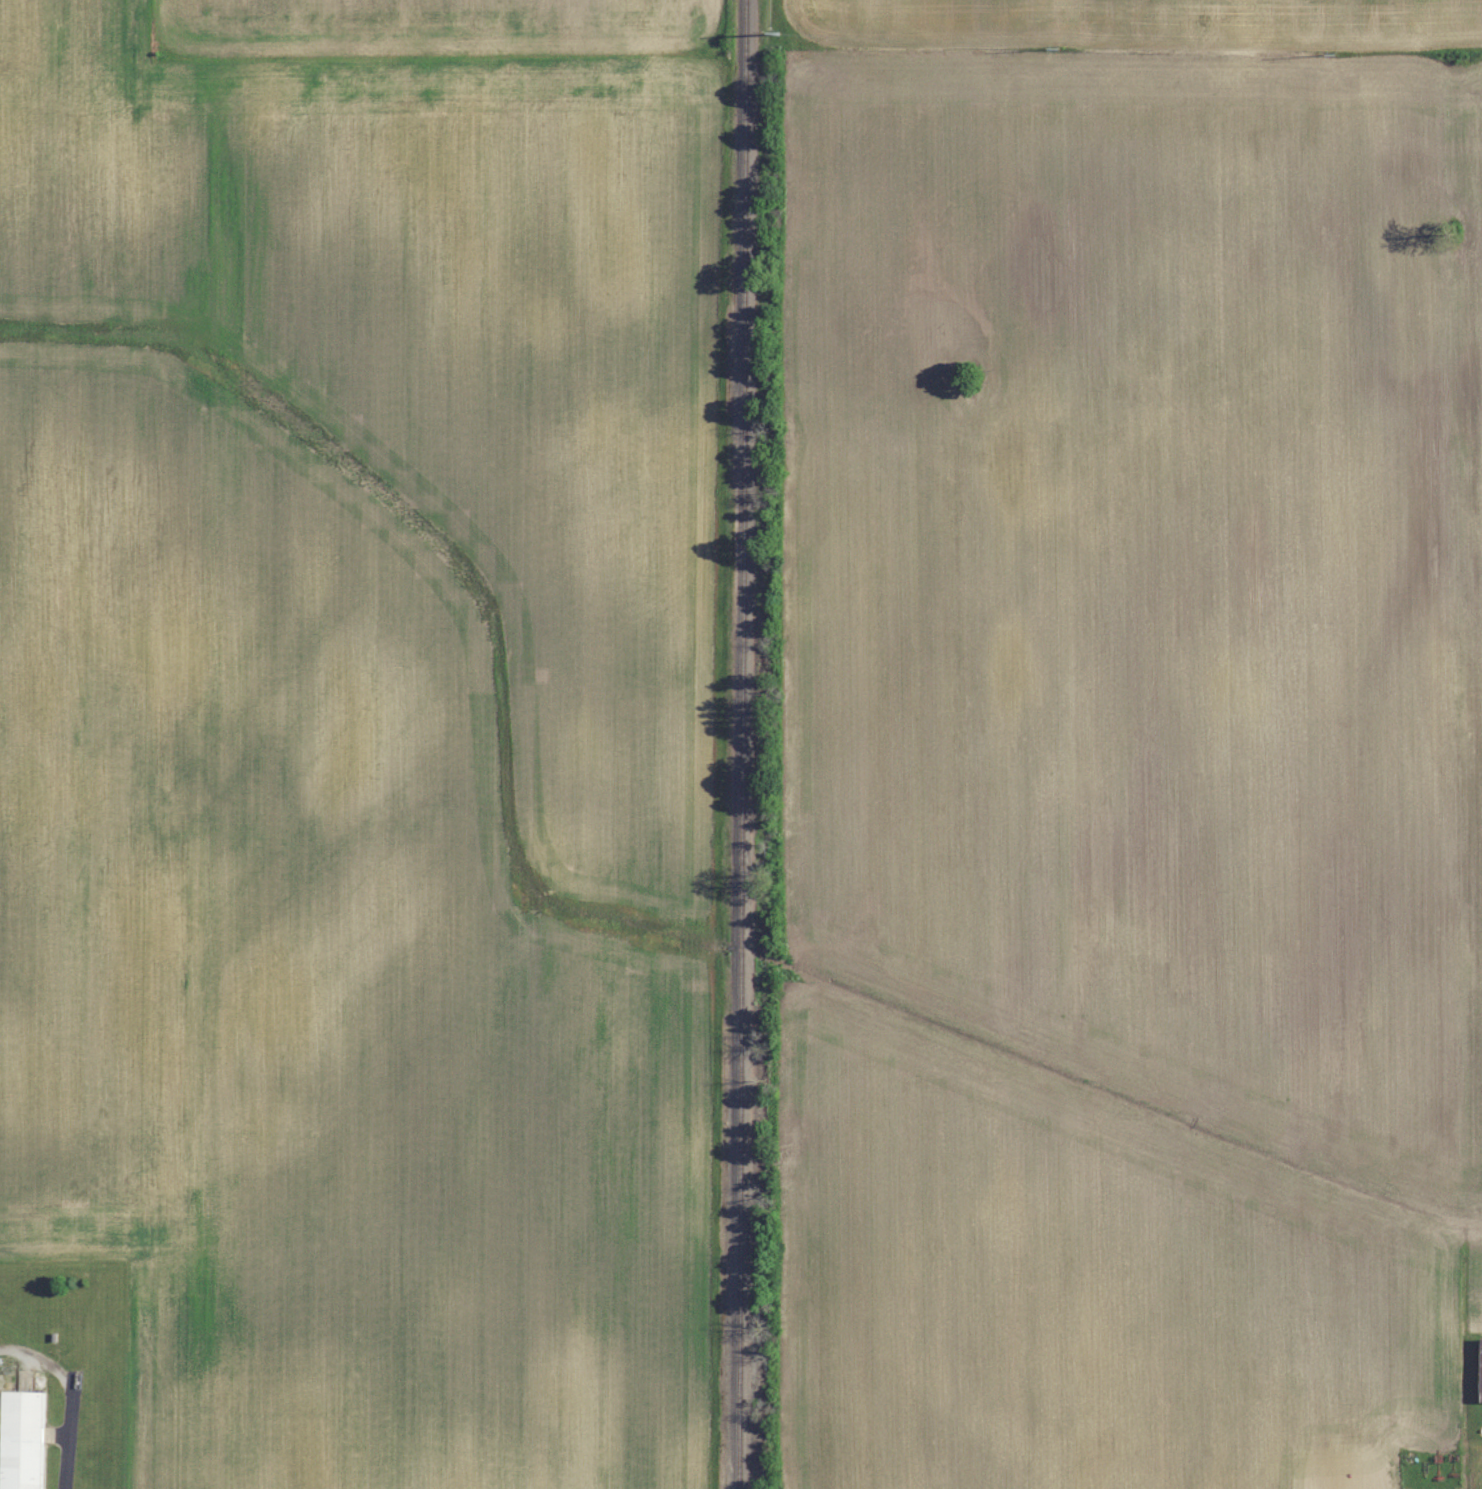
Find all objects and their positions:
railway: (743, 744)
building: (1479, 1370)
road: (70, 1395)
building: (26, 1439)

